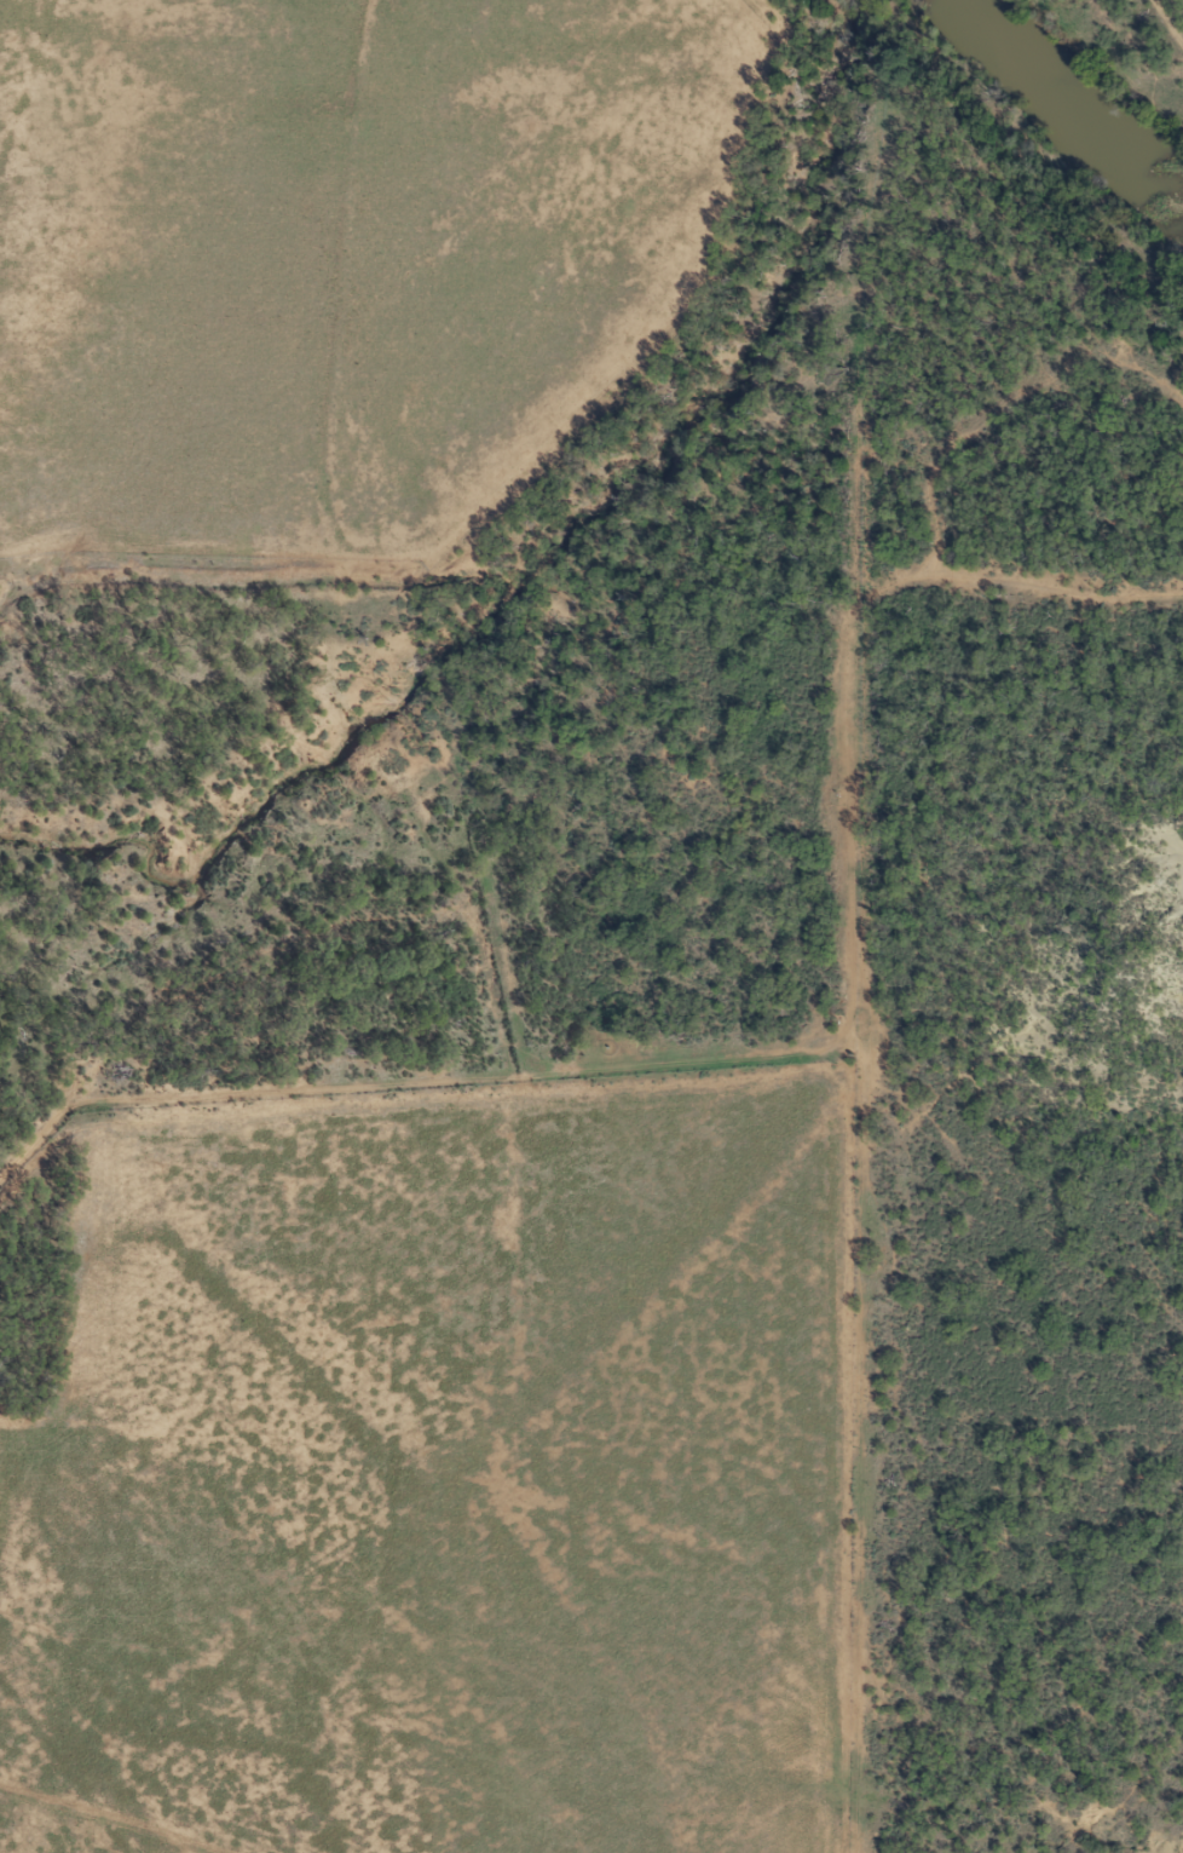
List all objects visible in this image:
river: (1072, 108)

